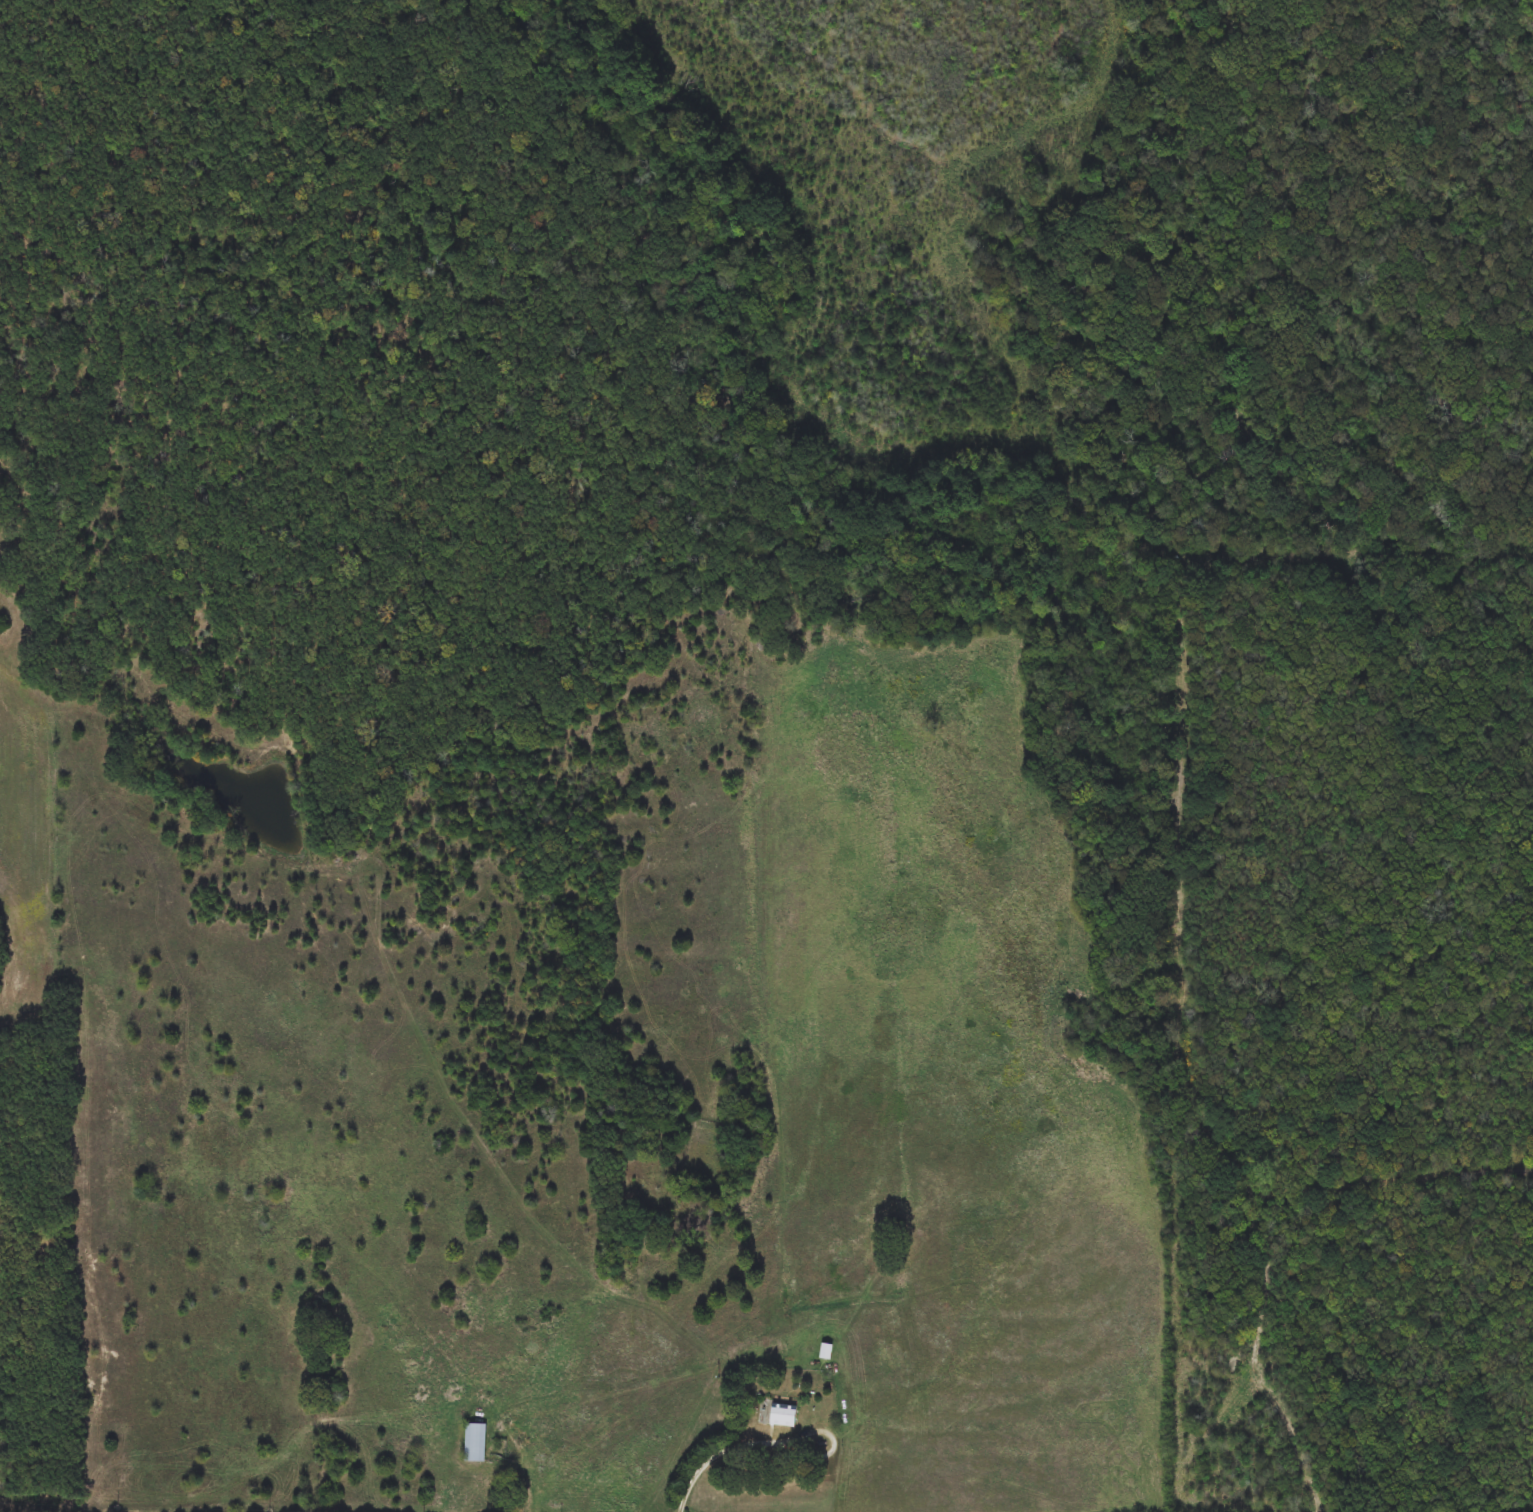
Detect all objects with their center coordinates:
building: (827, 1351)
building: (784, 1415)
road: (821, 1432)
building: (477, 1442)
road: (714, 1456)

